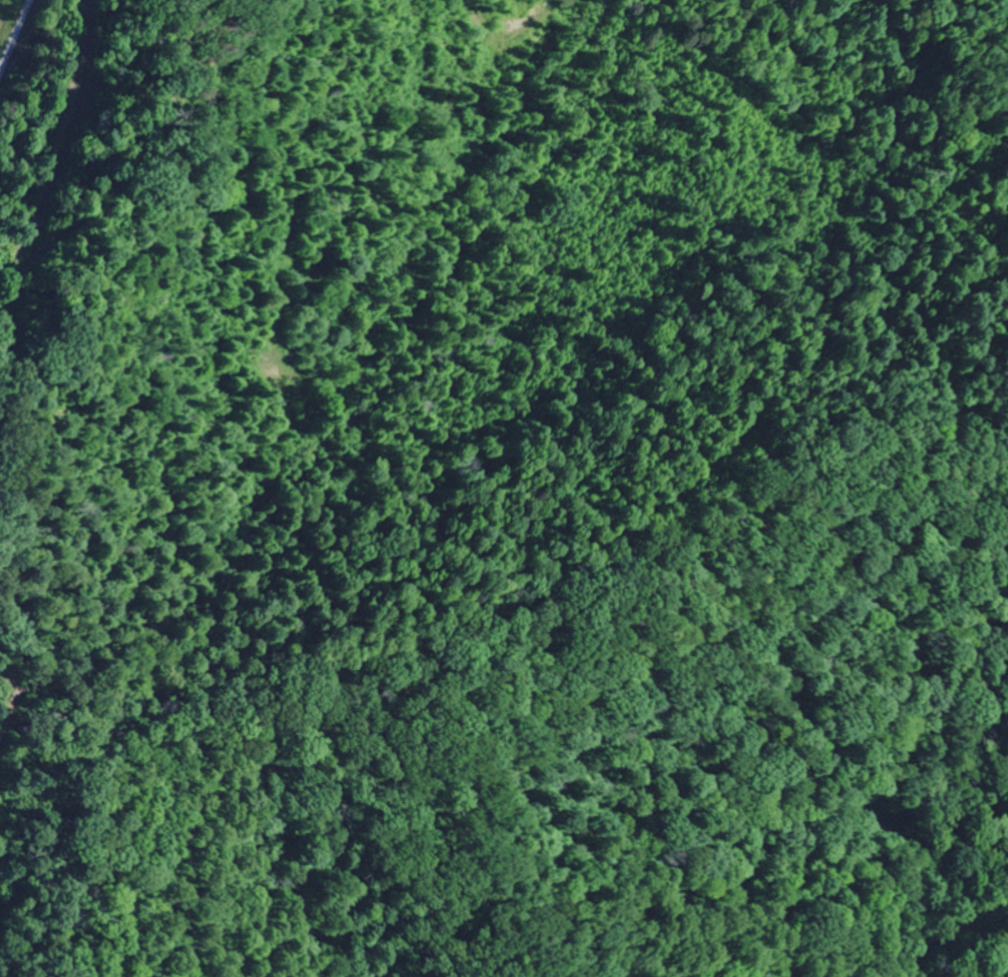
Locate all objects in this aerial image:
road: (13, 31)
road: (245, 81)

